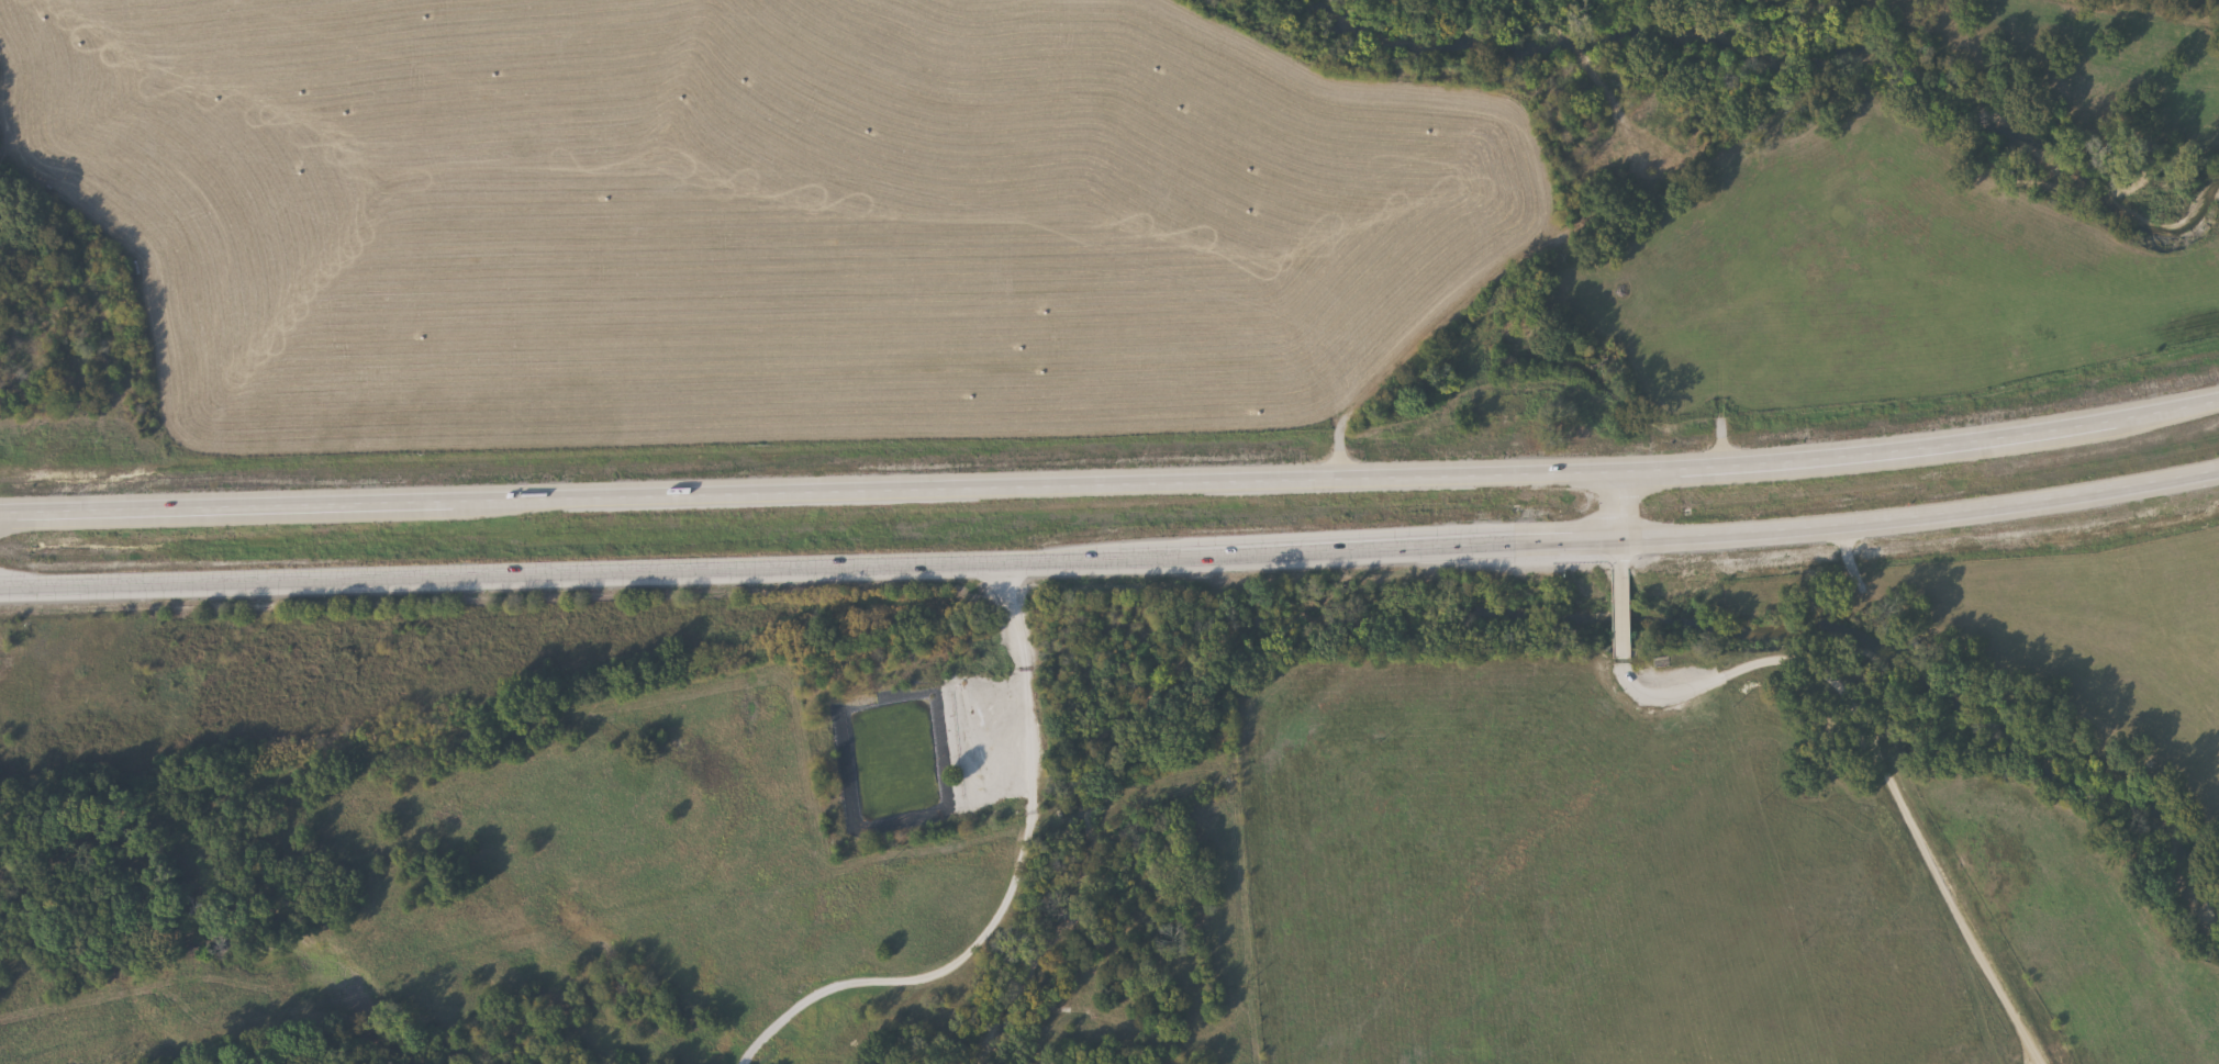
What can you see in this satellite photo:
road: (1112, 481)
road: (1608, 506)
road: (1112, 560)
road: (1617, 602)
road: (1877, 759)
road: (1006, 895)

